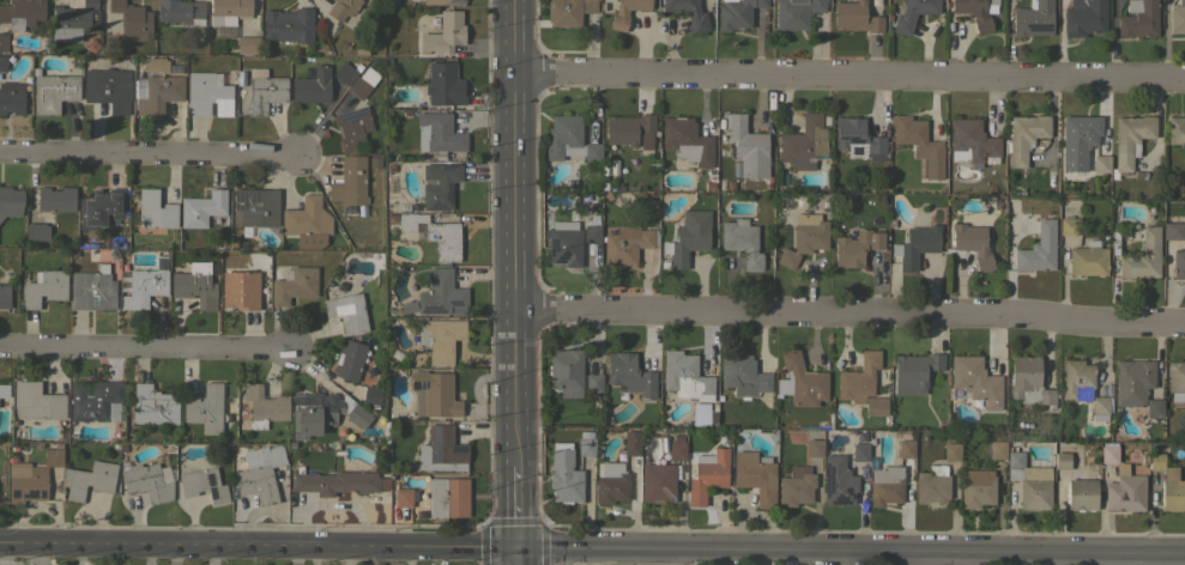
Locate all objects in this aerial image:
building: (443, 1)
building: (343, 8)
building: (228, 11)
building: (568, 11)
building: (22, 12)
building: (181, 12)
building: (625, 12)
building: (796, 12)
building: (975, 12)
building: (688, 13)
building: (737, 13)
building: (912, 13)
building: (856, 17)
building: (1177, 17)
building: (1084, 18)
building: (1137, 18)
building: (1033, 19)
building: (73, 20)
building: (132, 20)
building: (288, 25)
building: (445, 32)
building: (2, 42)
building: (247, 44)
building: (2, 62)
building: (344, 73)
rooftop solar panel: (280, 77)
building: (241, 78)
road: (850, 79)
building: (446, 83)
building: (156, 86)
building: (312, 86)
building: (108, 87)
building: (358, 87)
building: (264, 91)
building: (53, 92)
building: (207, 93)
building: (11, 97)
building: (352, 127)
rooftop solar panel: (341, 129)
building: (629, 129)
building: (1175, 129)
building: (437, 132)
building: (1023, 136)
building: (857, 139)
building: (569, 140)
building: (687, 140)
building: (1077, 140)
building: (1130, 140)
rooftop solar panel: (856, 142)
building: (918, 142)
building: (971, 142)
building: (803, 144)
building: (748, 146)
rooftop solar panel: (858, 152)
road: (151, 153)
building: (373, 163)
building: (1100, 163)
rooftop solar panel: (443, 169)
building: (350, 181)
building: (439, 184)
building: (720, 186)
building: (709, 187)
rooftop solar panel: (451, 193)
building: (55, 199)
building: (10, 201)
building: (256, 206)
rooftop solar panel: (437, 206)
building: (101, 207)
building: (201, 207)
building: (155, 209)
building: (306, 217)
building: (411, 220)
building: (1069, 225)
building: (592, 230)
building: (1173, 230)
building: (36, 231)
building: (687, 238)
building: (804, 238)
building: (308, 239)
building: (443, 239)
building: (972, 241)
building: (742, 242)
building: (627, 244)
building: (917, 245)
building: (564, 247)
building: (856, 247)
building: (1038, 249)
building: (1142, 256)
building: (1088, 259)
building: (1178, 263)
building: (122, 278)
road: (515, 282)
building: (145, 284)
building: (294, 284)
building: (195, 285)
building: (43, 287)
building: (92, 290)
building: (240, 290)
building: (440, 293)
building: (4, 294)
building: (406, 308)
building: (347, 311)
road: (850, 315)
building: (440, 339)
road: (146, 348)
building: (350, 360)
building: (566, 371)
building: (914, 371)
building: (629, 375)
building: (685, 376)
building: (743, 376)
building: (1077, 378)
building: (975, 379)
building: (800, 381)
building: (1028, 381)
building: (1132, 381)
building: (1175, 381)
building: (593, 383)
building: (863, 384)
building: (4, 390)
rooftop solar panel: (92, 390)
building: (370, 394)
building: (434, 394)
building: (96, 400)
building: (36, 401)
rooftop solar panel: (75, 406)
building: (153, 406)
building: (264, 406)
building: (205, 407)
building: (1100, 407)
building: (1154, 407)
building: (324, 413)
building: (631, 443)
building: (586, 444)
rooftop solar panel: (434, 446)
building: (677, 448)
building: (814, 448)
building: (905, 449)
building: (997, 449)
building: (441, 450)
rooftop solar panel: (462, 450)
building: (859, 451)
building: (951, 451)
building: (1108, 452)
building: (53, 457)
building: (1062, 460)
building: (1155, 461)
building: (260, 473)
rooftop solar panel: (164, 474)
building: (564, 475)
building: (708, 475)
building: (755, 476)
building: (89, 479)
rooftop solar panel: (210, 480)
building: (334, 481)
building: (838, 481)
building: (1029, 481)
building: (25, 482)
building: (146, 482)
building: (611, 482)
building: (658, 482)
building: (202, 484)
building: (885, 485)
building: (932, 485)
building: (796, 486)
building: (977, 487)
building: (1125, 491)
building: (1172, 491)
rooftop solar panel: (212, 494)
building: (1081, 494)
building: (449, 496)
building: (403, 502)
road: (592, 543)

